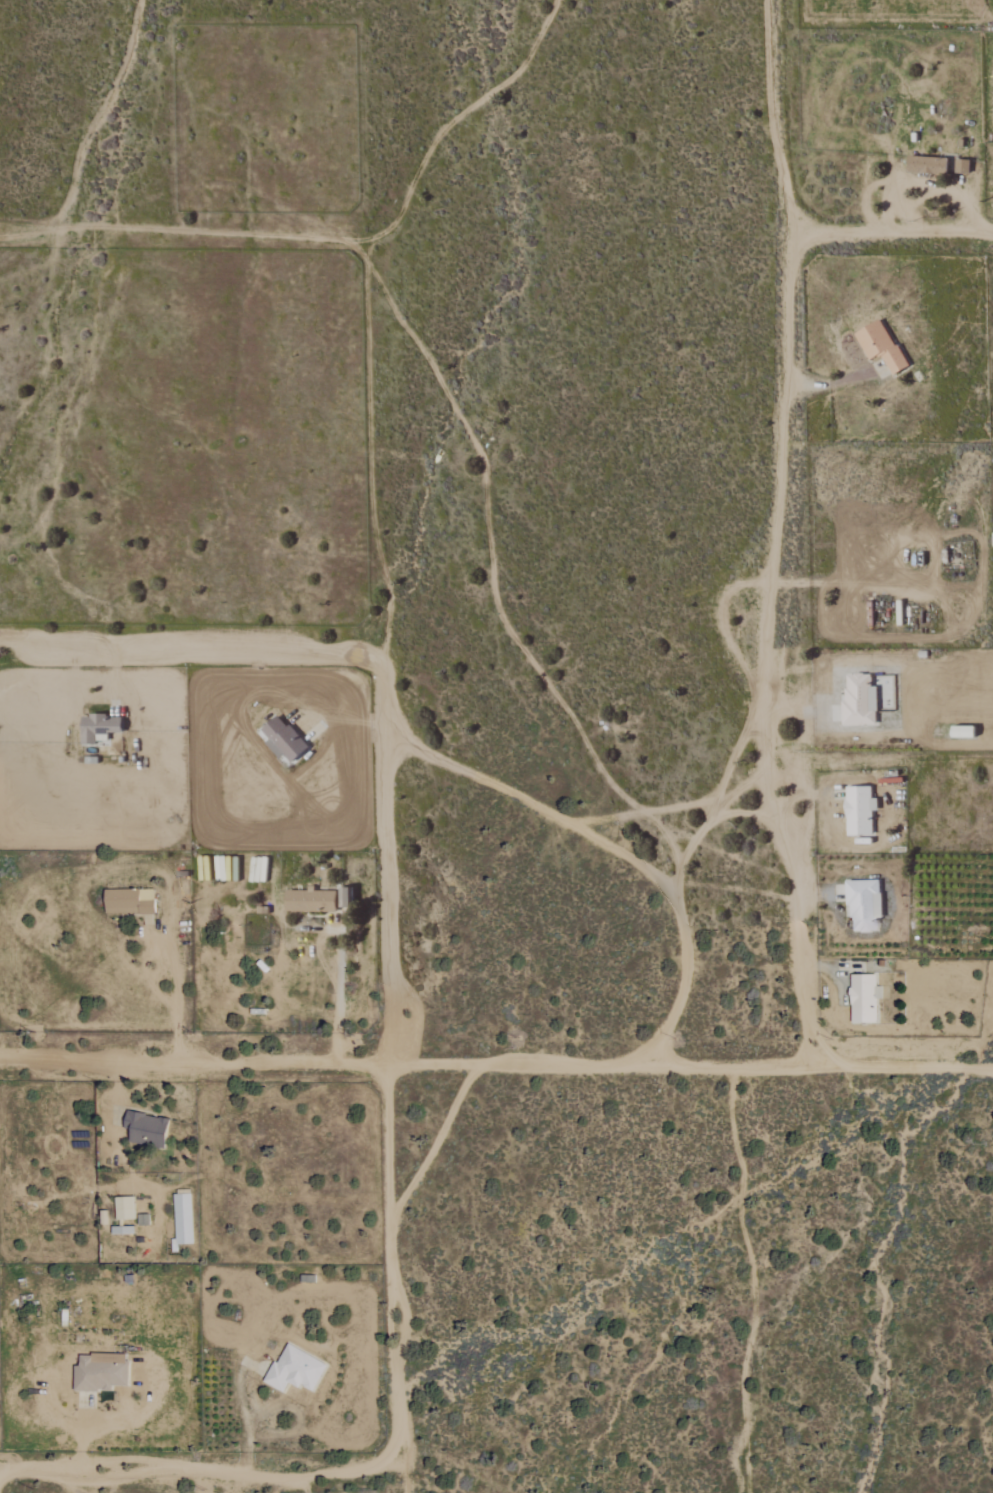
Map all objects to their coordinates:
building: (924, 165)
building: (960, 167)
road: (30, 230)
road: (888, 237)
building: (878, 346)
road: (775, 535)
road: (188, 655)
building: (869, 699)
building: (103, 727)
building: (286, 740)
building: (862, 810)
road: (676, 882)
building: (322, 900)
building: (134, 901)
building: (868, 904)
building: (362, 943)
building: (866, 998)
road: (178, 1005)
road: (338, 1006)
road: (390, 1056)
road: (496, 1065)
building: (151, 1129)
building: (129, 1208)
building: (186, 1218)
road: (132, 1345)
building: (299, 1370)
building: (103, 1375)
road: (247, 1421)
road: (200, 1474)
road: (307, 1486)

